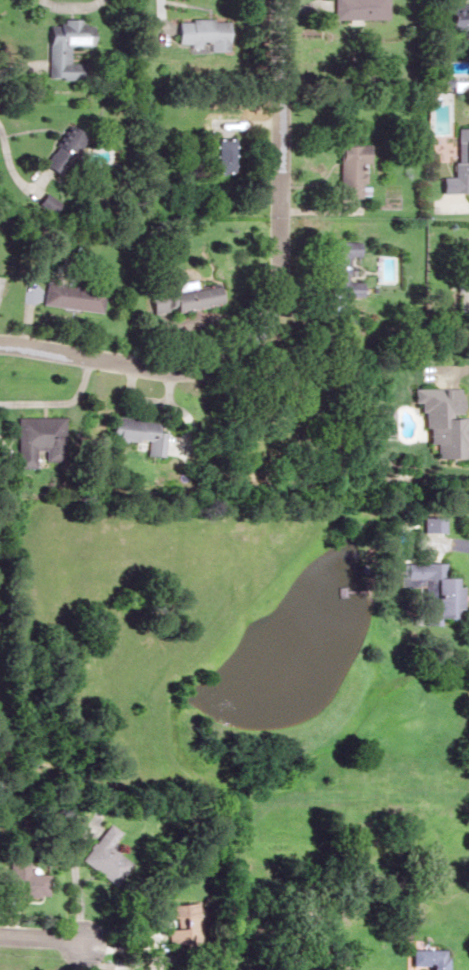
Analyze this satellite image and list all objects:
road: (65, 7)
building: (357, 9)
building: (457, 16)
building: (198, 32)
building: (64, 49)
building: (58, 149)
building: (218, 154)
building: (456, 161)
building: (346, 168)
road: (373, 224)
building: (335, 267)
building: (69, 295)
building: (182, 297)
road: (268, 301)
building: (437, 418)
building: (377, 421)
building: (134, 432)
building: (35, 439)
building: (431, 588)
building: (103, 854)
building: (22, 878)
building: (179, 919)
road: (41, 937)
building: (426, 958)

